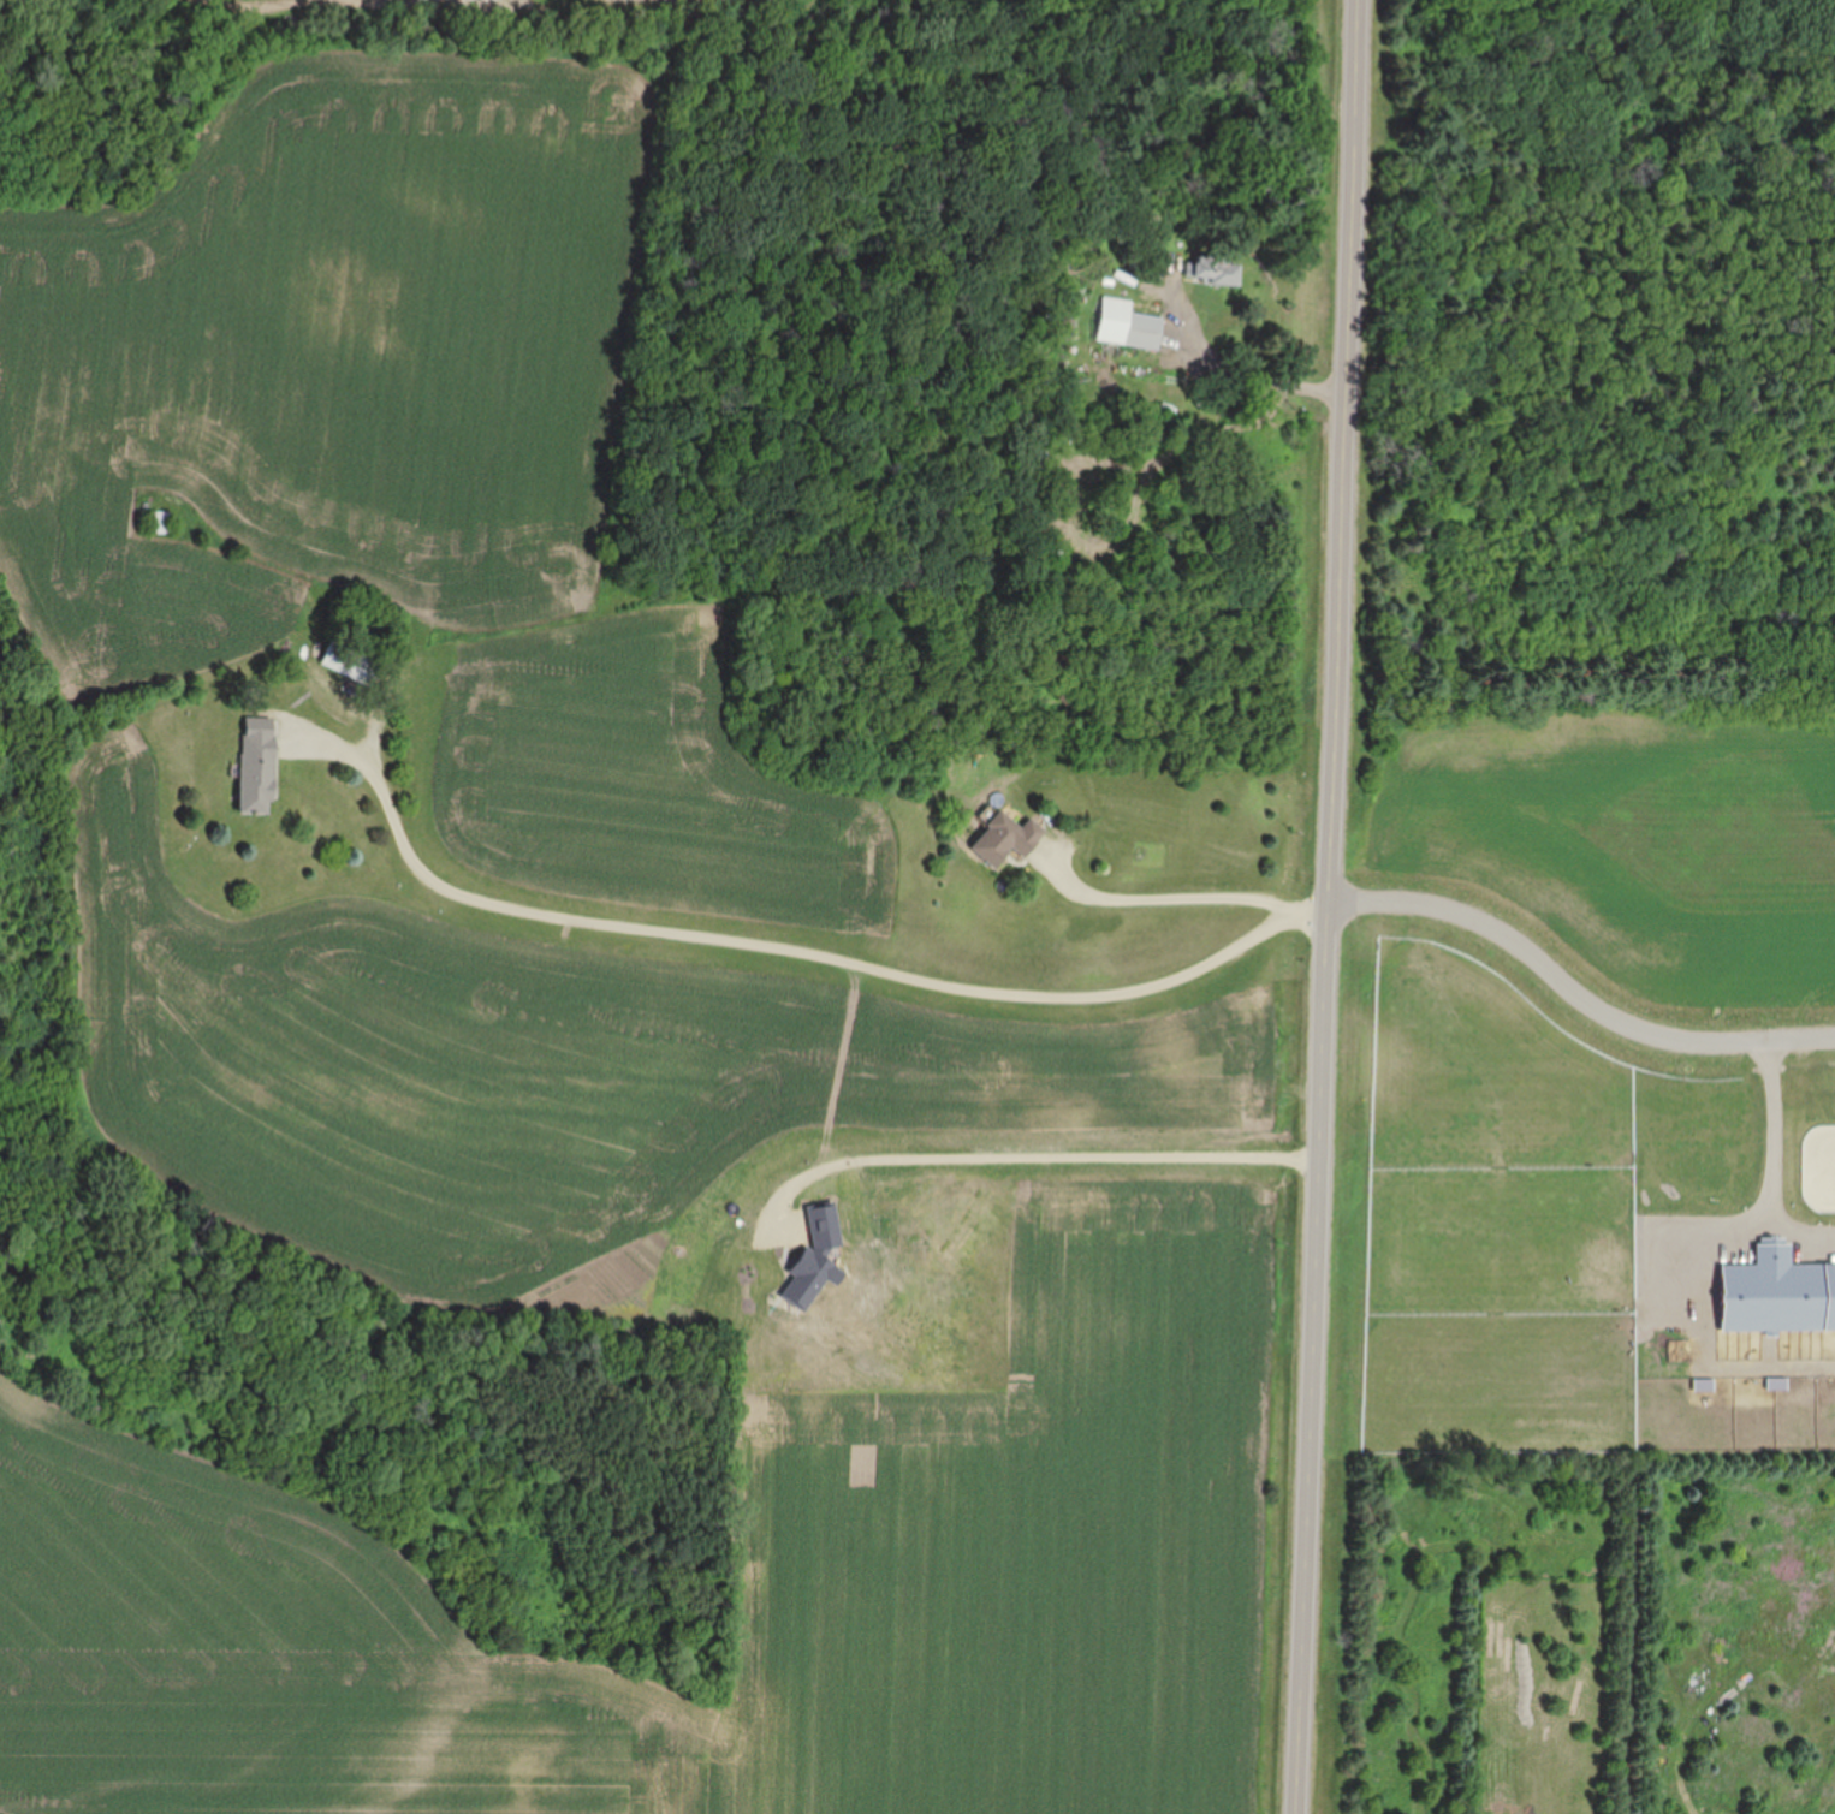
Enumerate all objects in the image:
building: (1211, 270)
building: (1126, 325)
park: (1598, 345)
road: (1246, 379)
road: (1346, 453)
building: (156, 523)
building: (350, 664)
building: (254, 767)
building: (1006, 840)
road: (1171, 899)
road: (783, 946)
road: (1575, 989)
road: (1034, 1156)
road: (1775, 1160)
road: (1313, 1360)

